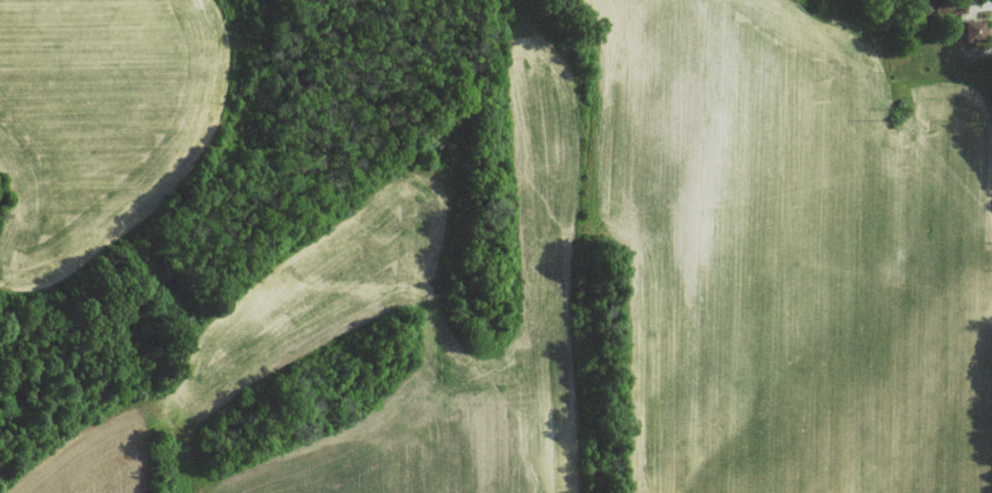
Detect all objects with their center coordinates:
building: (973, 29)

